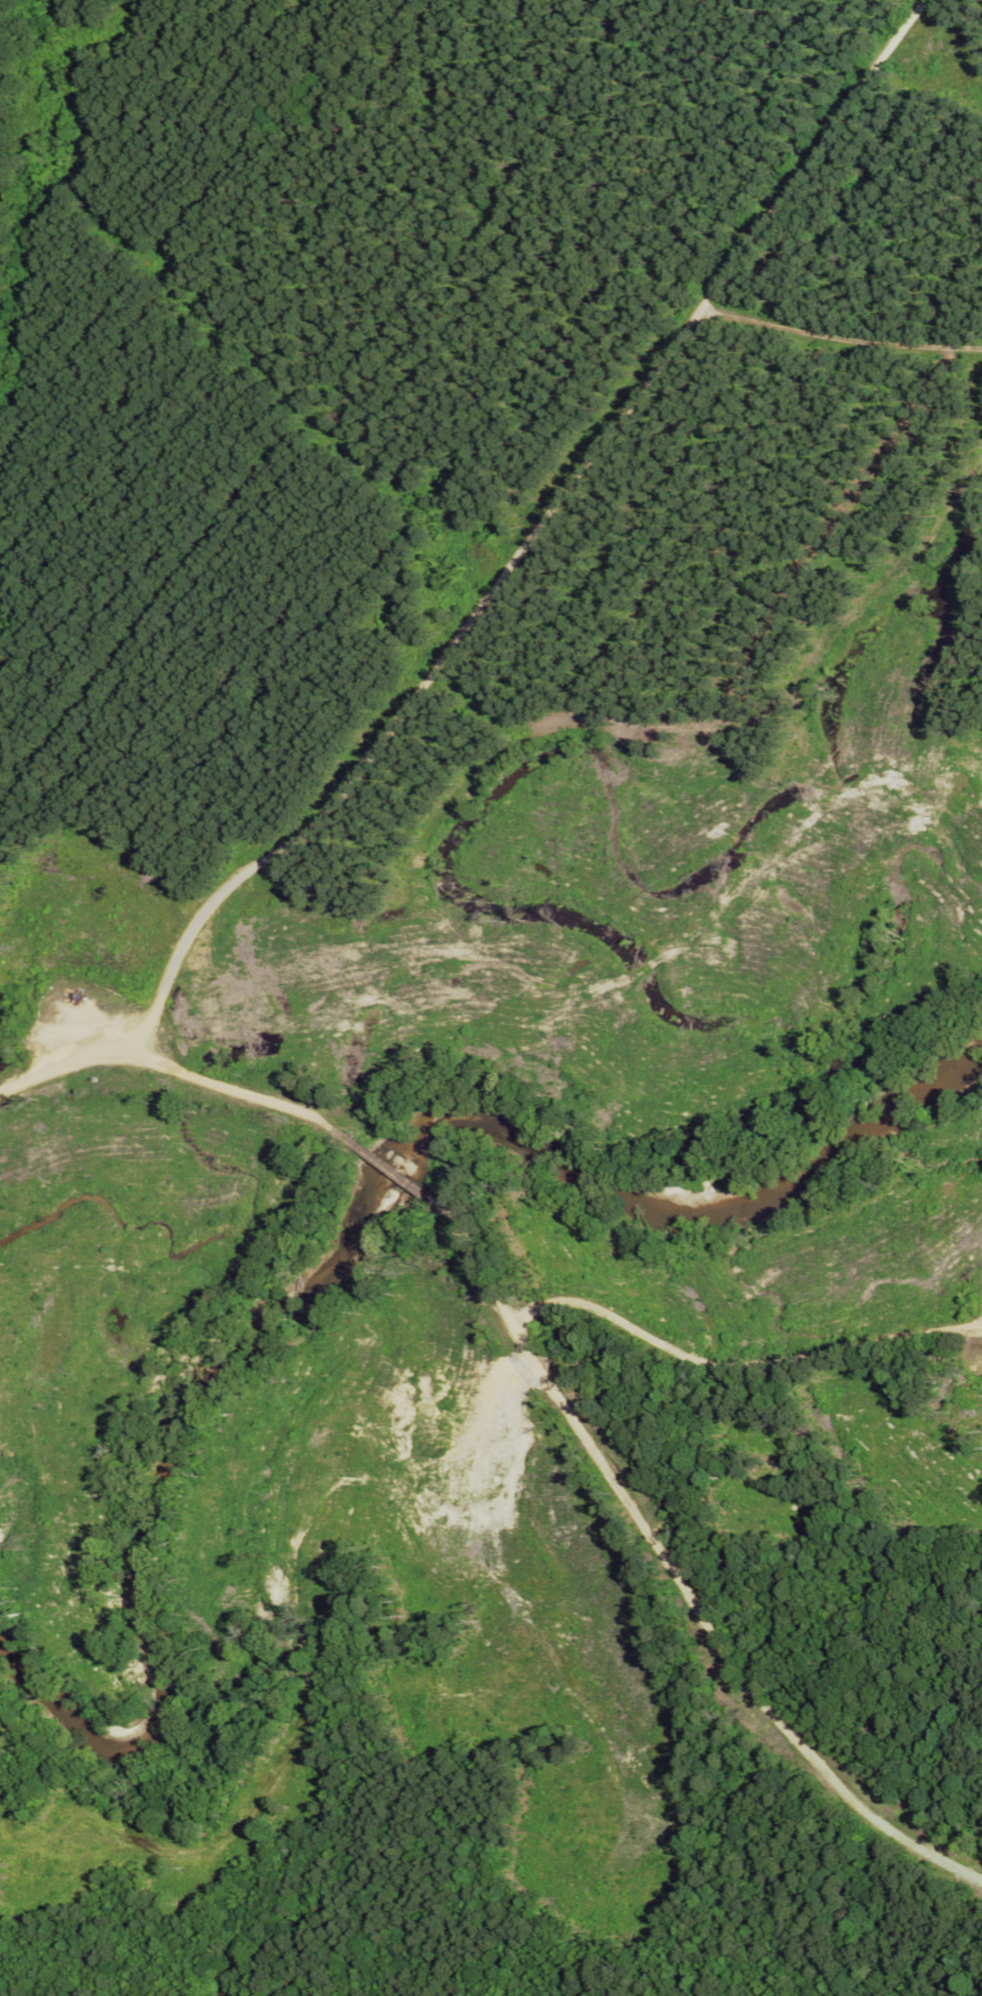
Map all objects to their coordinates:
road: (845, 319)
road: (527, 543)
petroleum well: (74, 998)
road: (168, 1070)
road: (385, 1169)
river: (357, 1238)
road: (738, 1364)
road: (672, 1577)

